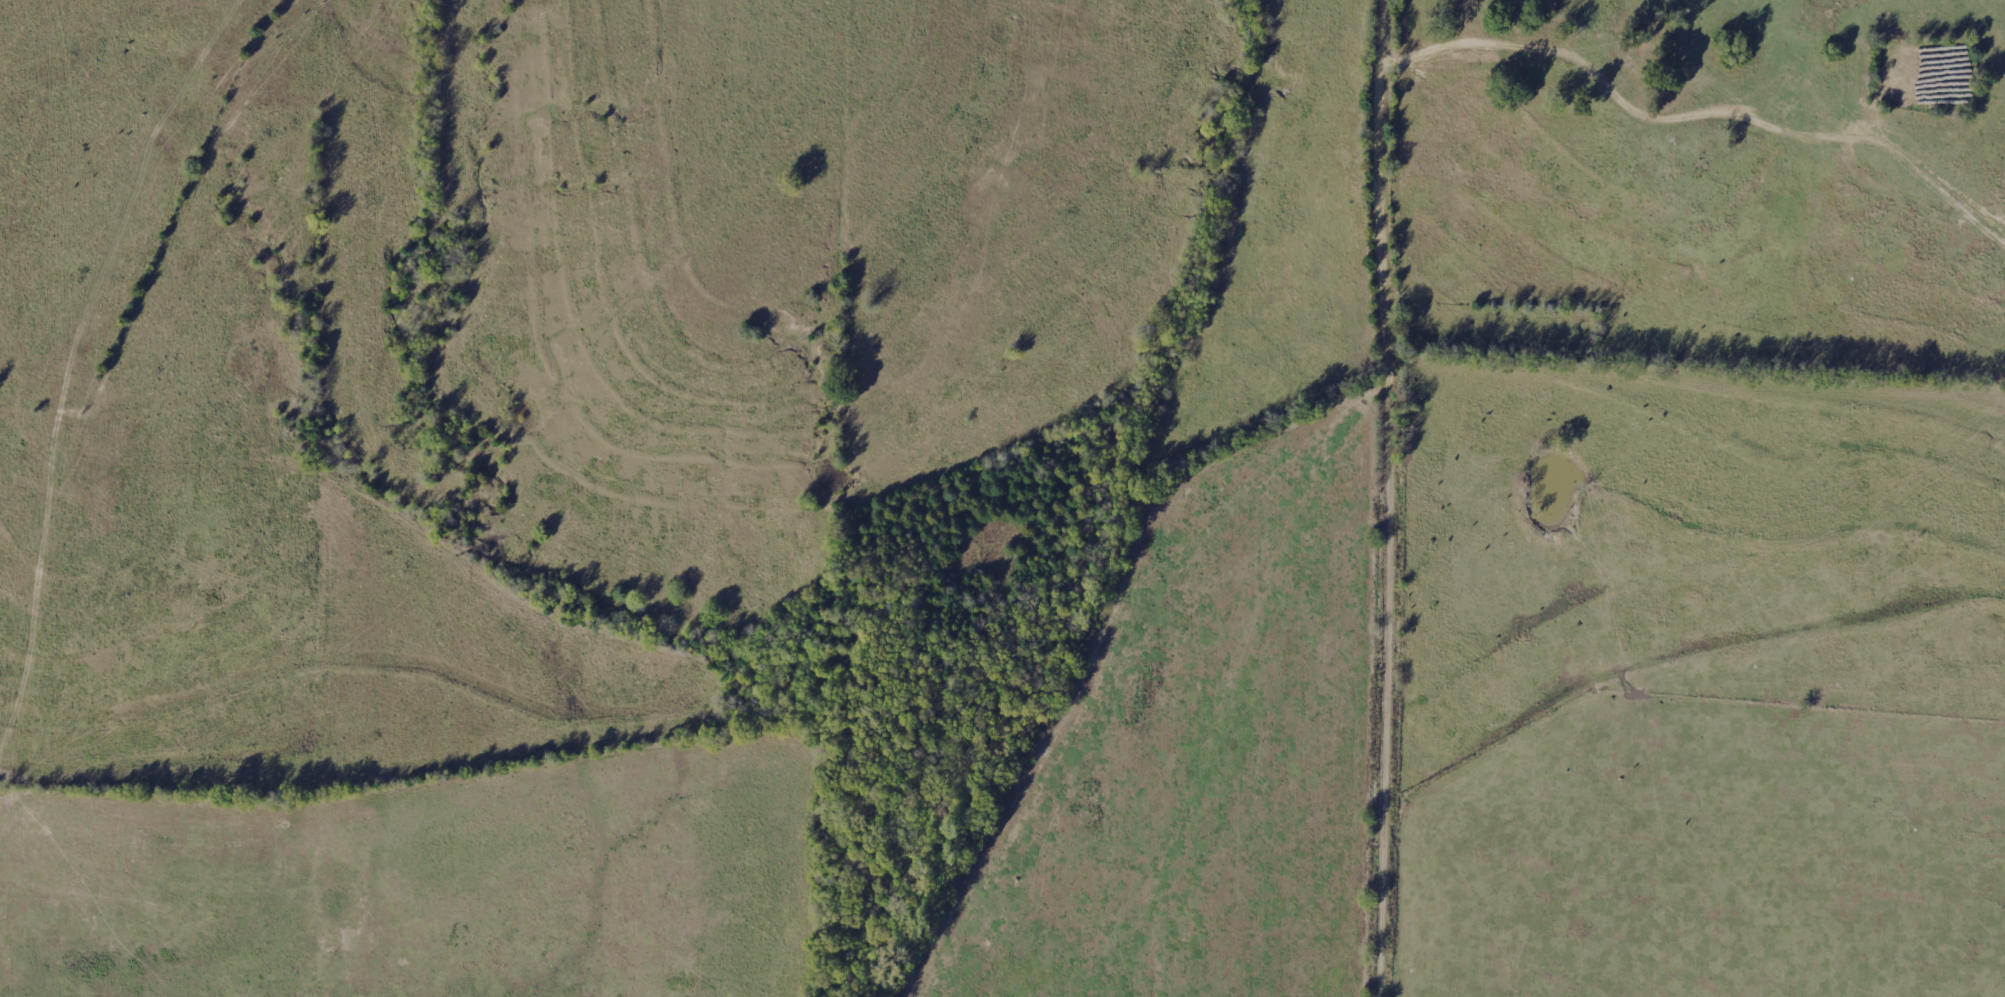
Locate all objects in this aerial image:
road: (1704, 135)
road: (1395, 498)

